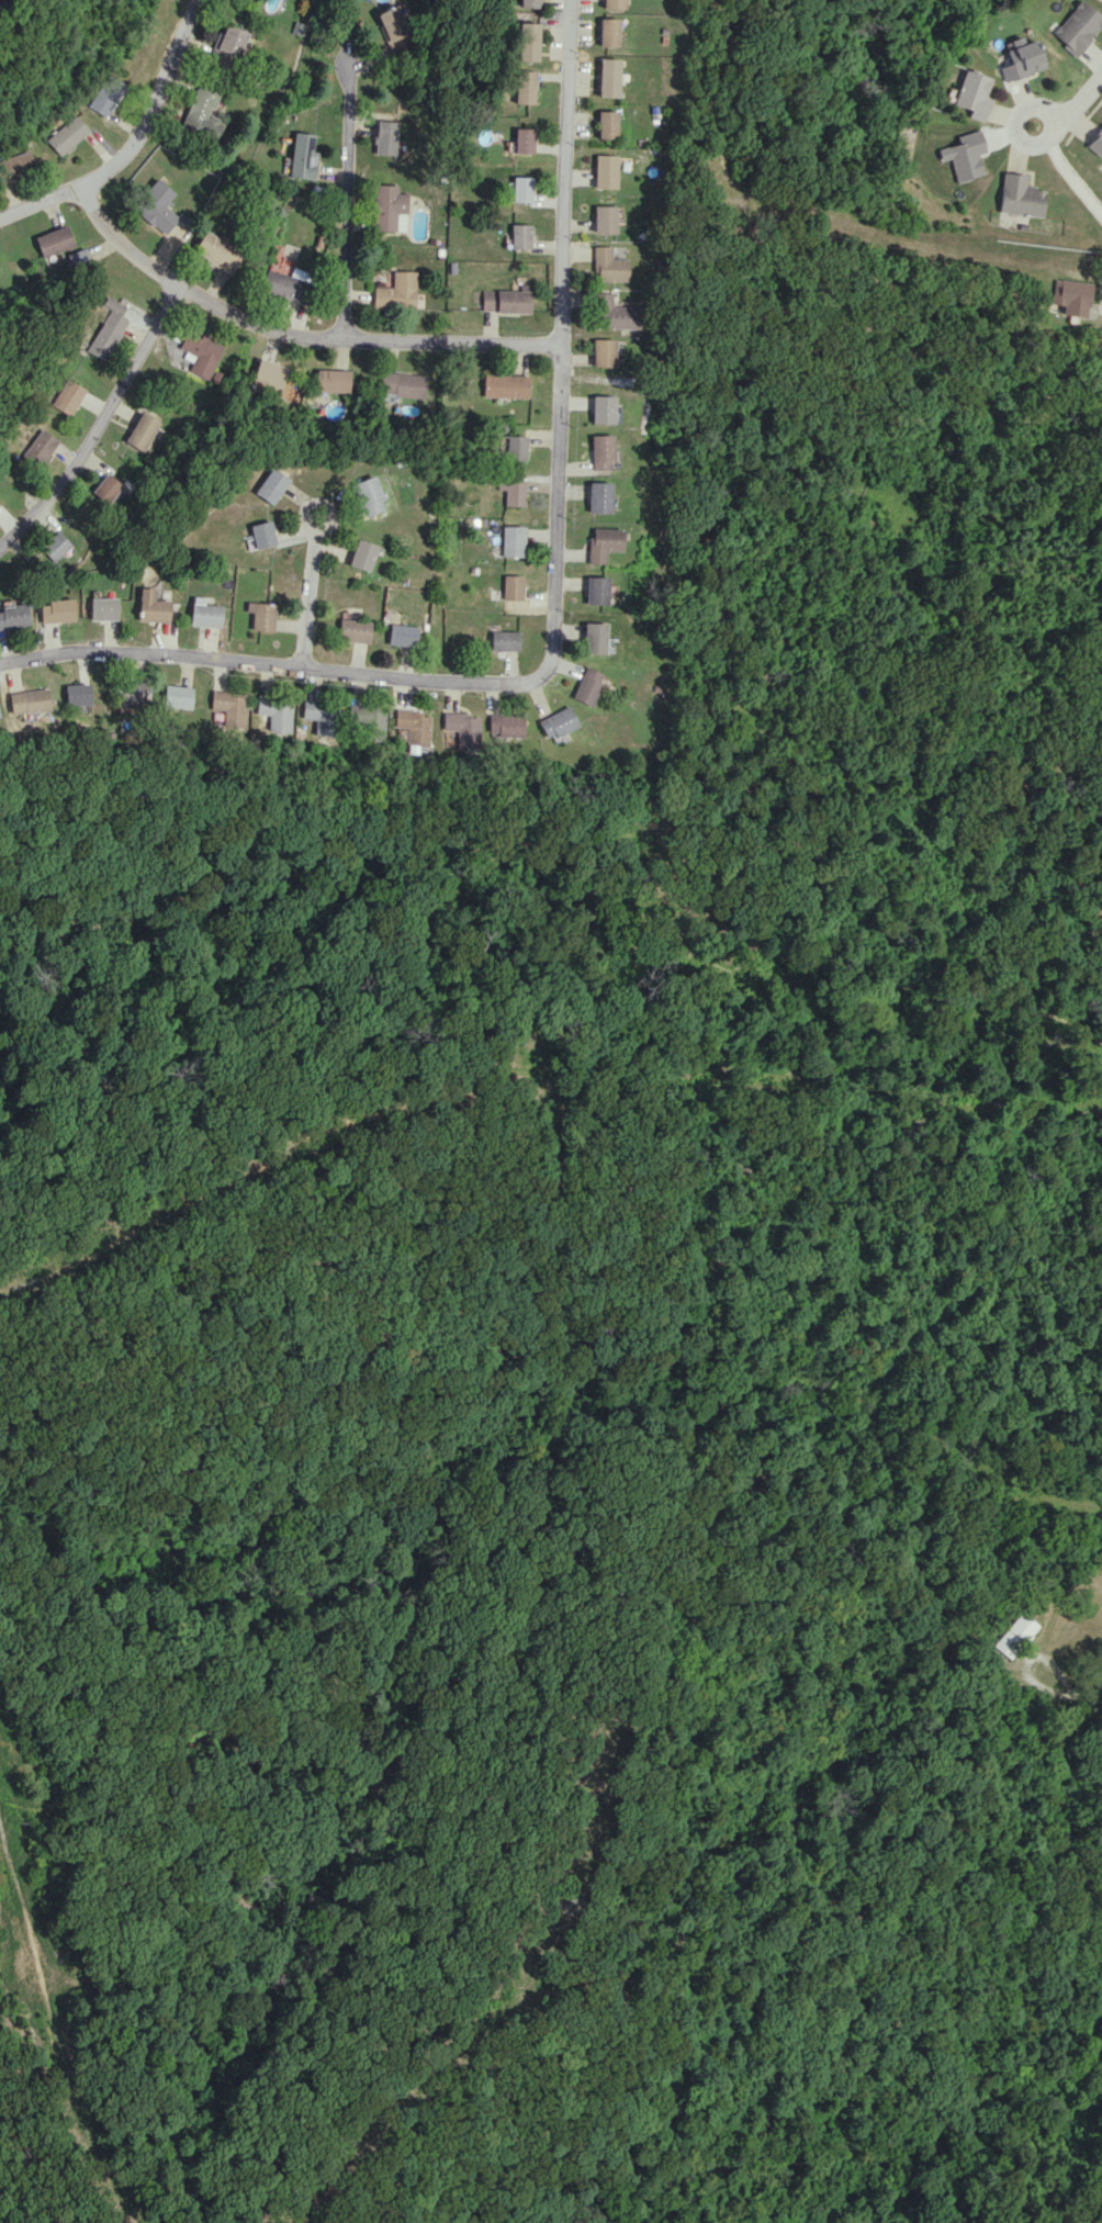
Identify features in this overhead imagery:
road: (1, 0)
building: (526, 3)
building: (612, 3)
building: (1077, 26)
building: (393, 29)
building: (608, 32)
building: (525, 41)
building: (227, 43)
building: (1020, 58)
building: (608, 77)
building: (524, 86)
building: (106, 92)
building: (971, 94)
road: (1080, 96)
building: (200, 113)
building: (607, 124)
building: (66, 135)
building: (385, 137)
building: (522, 139)
building: (1097, 144)
road: (142, 148)
building: (965, 155)
building: (301, 156)
building: (16, 160)
road: (1058, 160)
building: (606, 171)
building: (521, 189)
building: (1021, 195)
road: (349, 201)
building: (153, 205)
building: (389, 209)
building: (605, 218)
building: (520, 236)
building: (50, 242)
building: (214, 251)
building: (608, 265)
building: (284, 284)
building: (396, 291)
building: (1069, 296)
building: (506, 300)
building: (611, 313)
building: (105, 329)
road: (295, 332)
building: (201, 351)
building: (600, 352)
building: (270, 373)
building: (331, 380)
building: (403, 383)
building: (504, 385)
building: (66, 396)
building: (600, 408)
road: (99, 429)
building: (140, 430)
building: (37, 447)
building: (516, 447)
building: (600, 451)
building: (270, 485)
building: (104, 487)
building: (513, 492)
building: (368, 495)
building: (597, 497)
building: (262, 534)
building: (513, 540)
building: (601, 543)
building: (53, 546)
building: (362, 554)
building: (511, 587)
building: (595, 590)
road: (310, 599)
building: (153, 606)
building: (103, 608)
building: (56, 610)
road: (558, 614)
building: (206, 615)
building: (263, 615)
building: (13, 616)
building: (355, 630)
building: (403, 635)
building: (594, 638)
building: (505, 640)
building: (587, 686)
building: (128, 693)
building: (77, 694)
building: (177, 696)
building: (29, 703)
building: (229, 707)
building: (274, 711)
building: (321, 716)
building: (368, 720)
building: (556, 722)
building: (413, 726)
building: (505, 726)
building: (462, 728)
building: (1014, 1635)
road: (1067, 1695)

